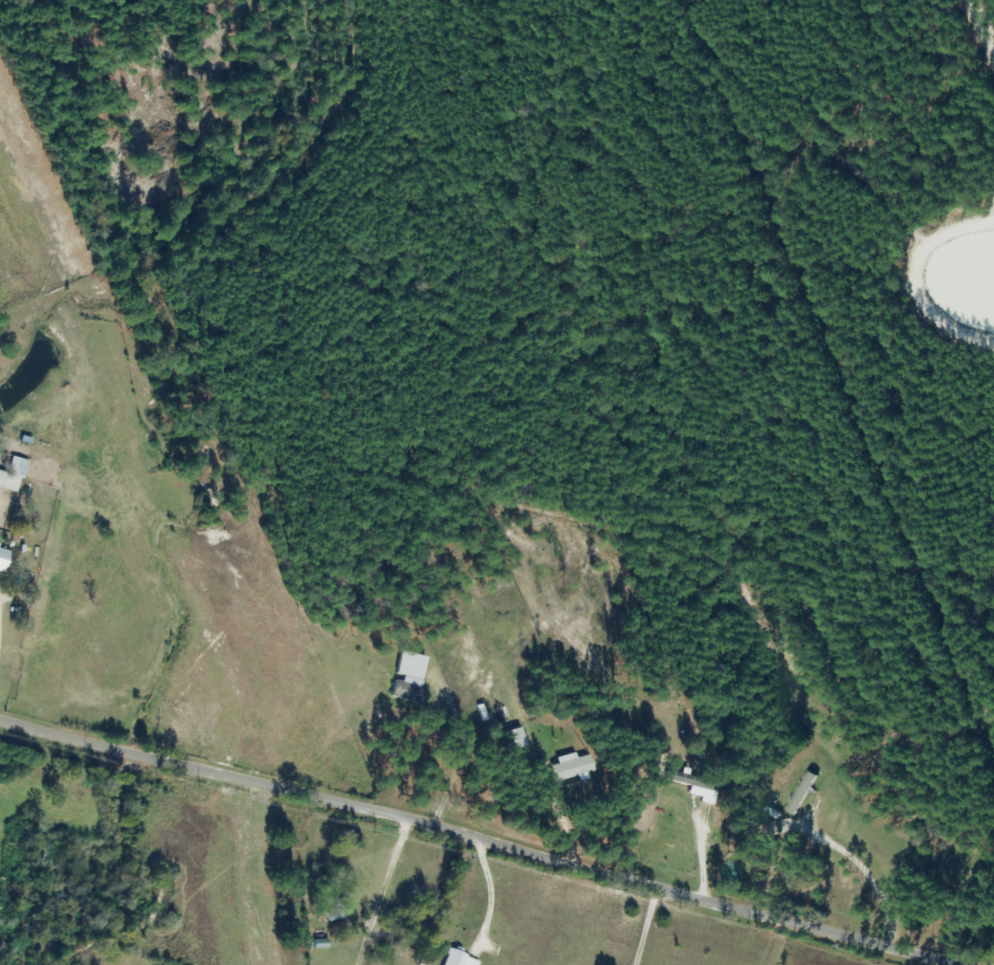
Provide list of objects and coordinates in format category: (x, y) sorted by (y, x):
building: (11, 474)
building: (1, 553)
building: (407, 678)
building: (569, 766)
building: (685, 779)
road: (571, 818)
building: (346, 837)
road: (482, 839)
road: (865, 873)
building: (329, 902)

